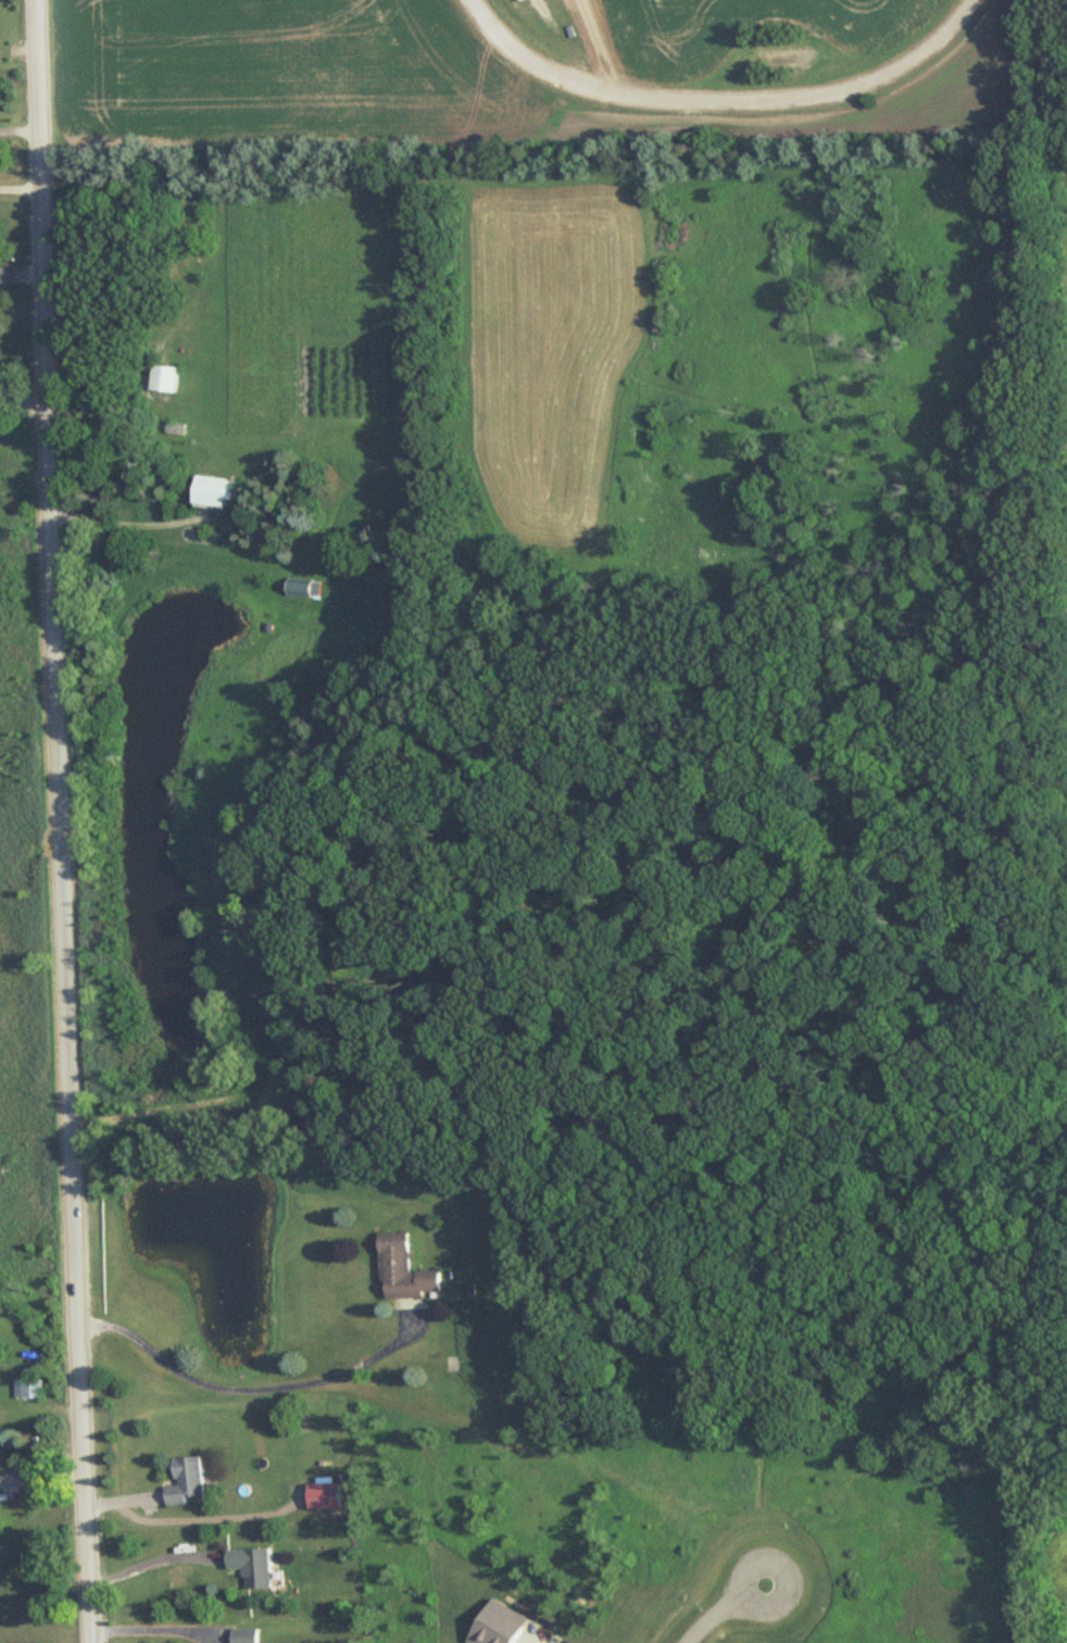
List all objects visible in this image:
building: (523, 0)
road: (17, 130)
road: (18, 191)
building: (166, 378)
road: (23, 392)
building: (215, 491)
building: (310, 589)
road: (58, 821)
building: (406, 1270)
road: (251, 1382)
building: (32, 1390)
building: (192, 1481)
building: (327, 1496)
road: (153, 1555)
building: (259, 1566)
road: (720, 1607)
building: (247, 1636)
road: (540, 1641)

